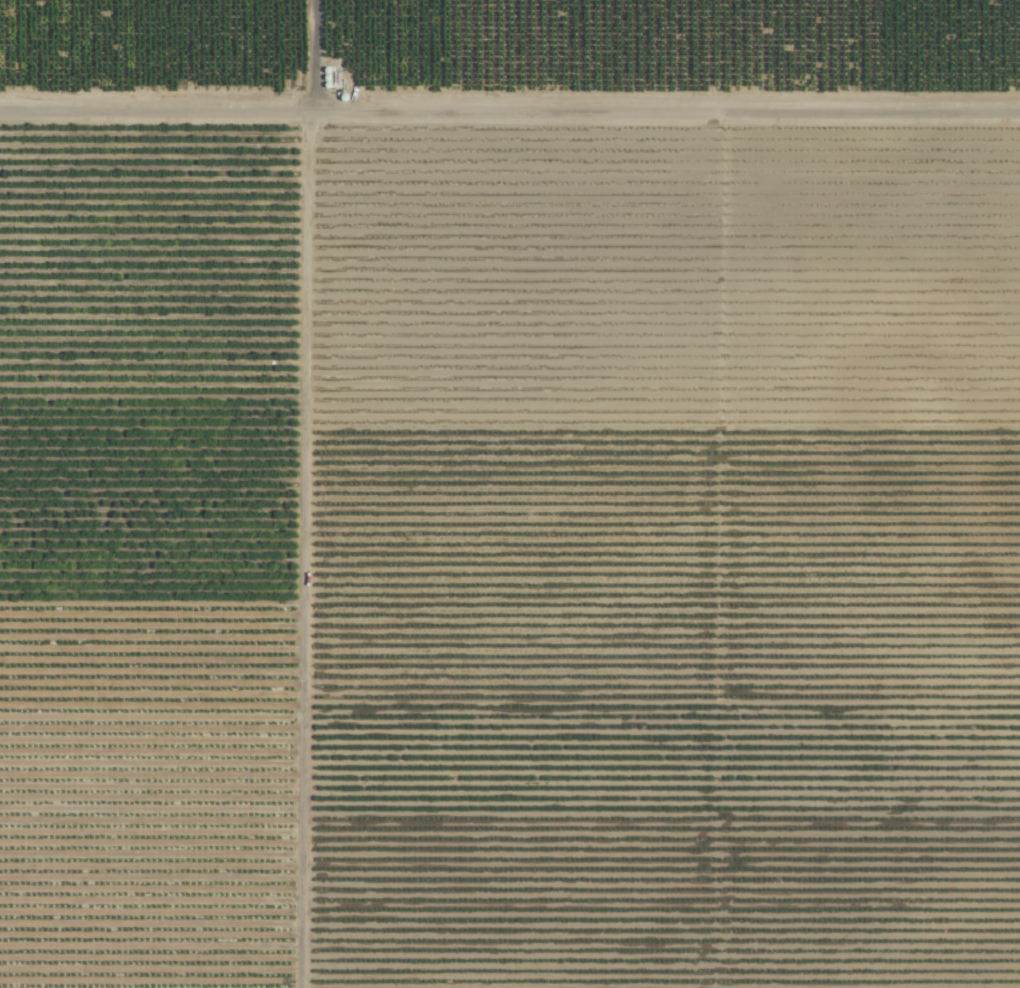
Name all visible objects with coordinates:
road: (510, 114)
crop: (510, 494)

